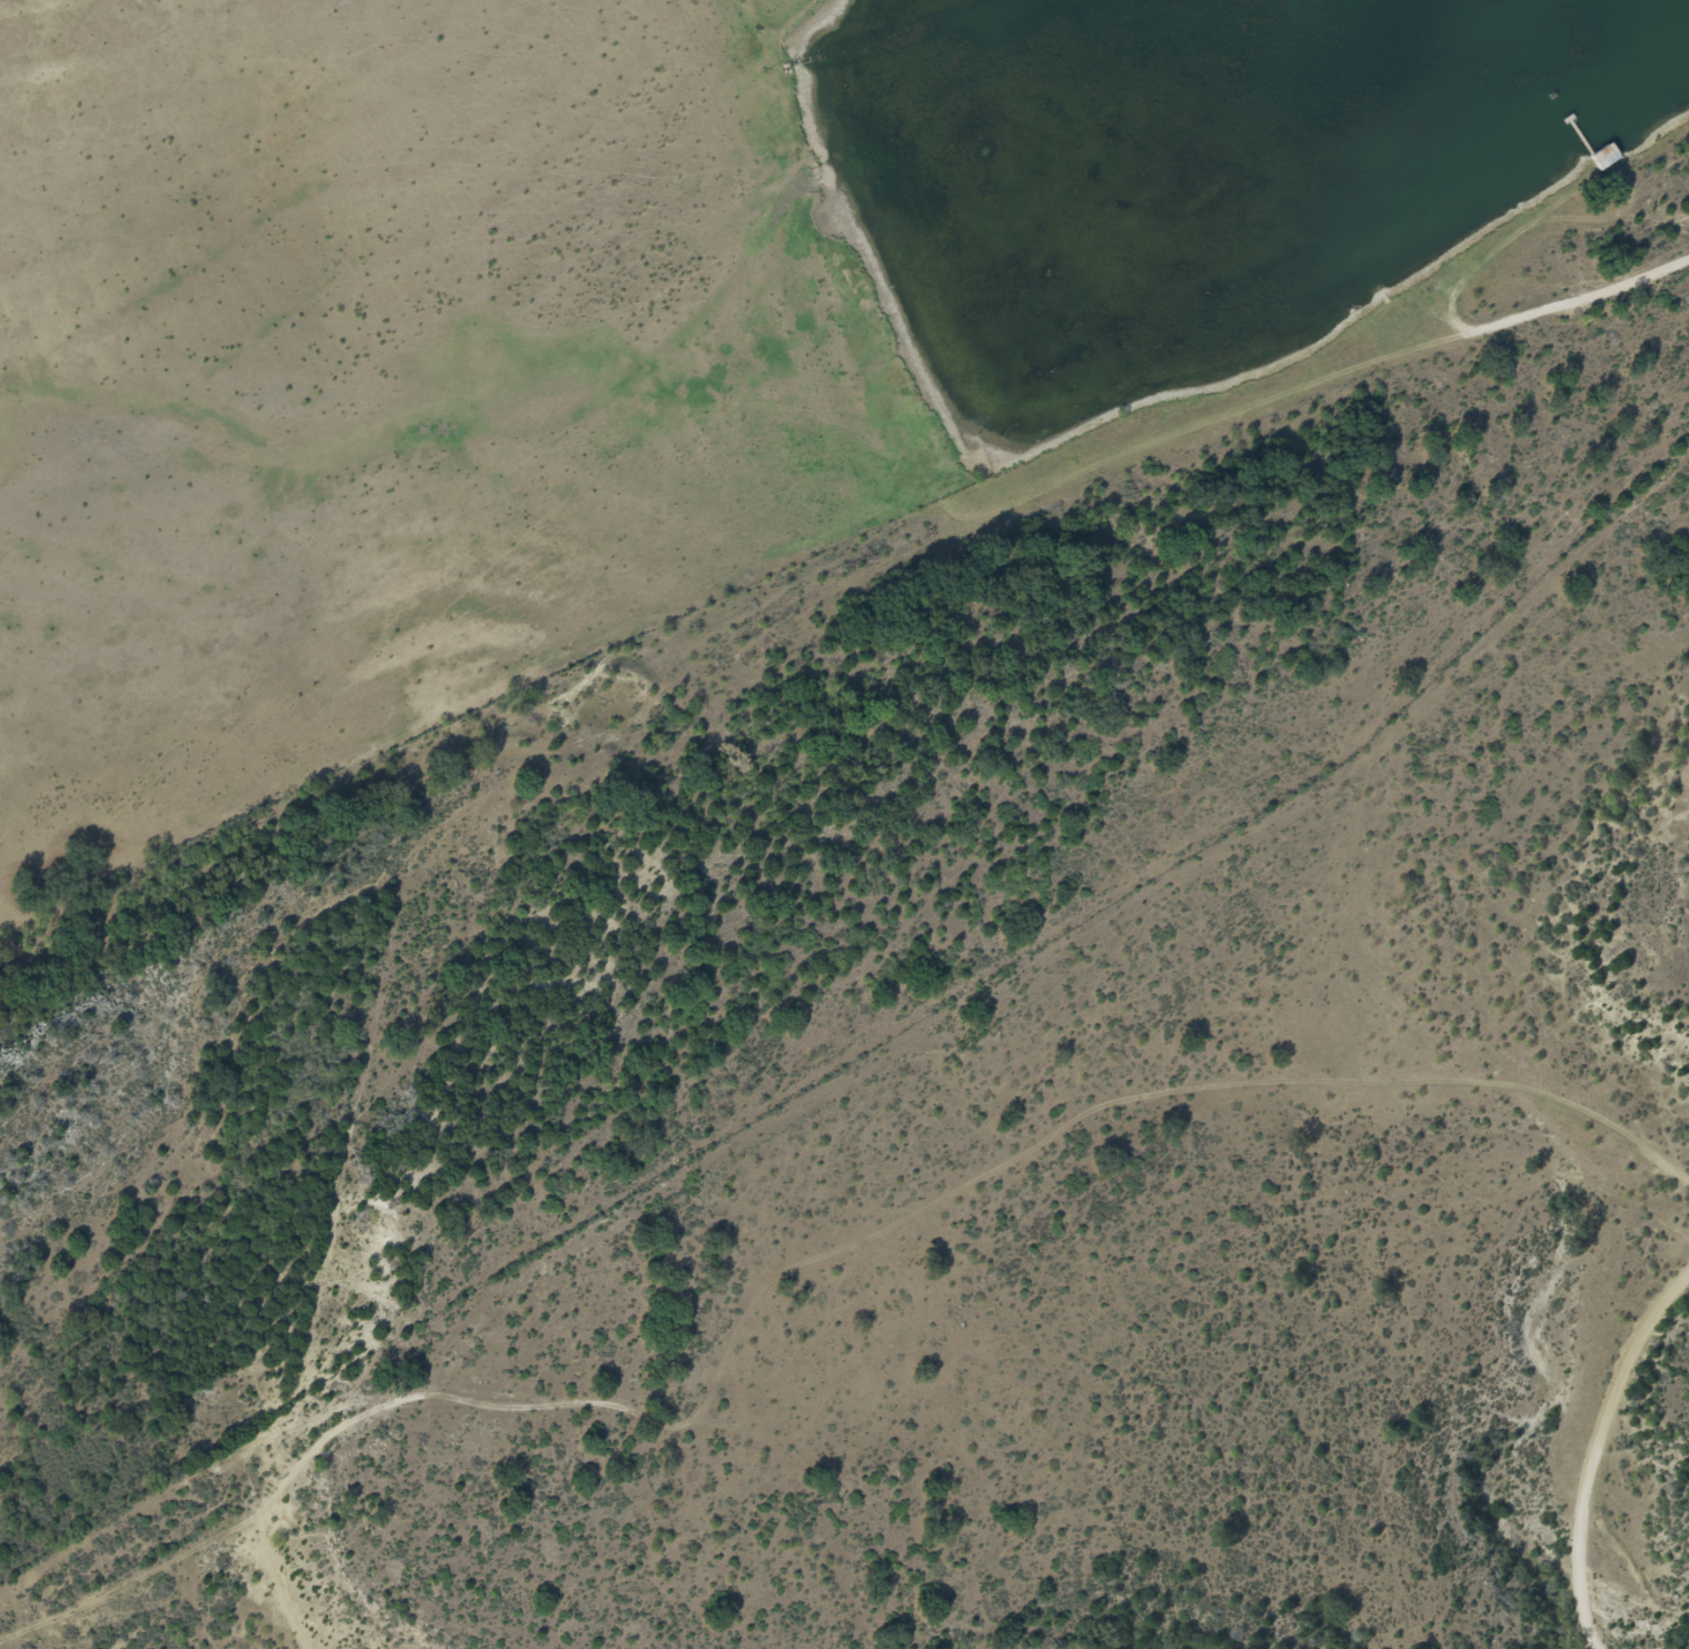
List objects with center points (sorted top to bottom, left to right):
building: (1603, 158)
road: (1371, 439)
road: (934, 1252)
road: (1627, 1511)

